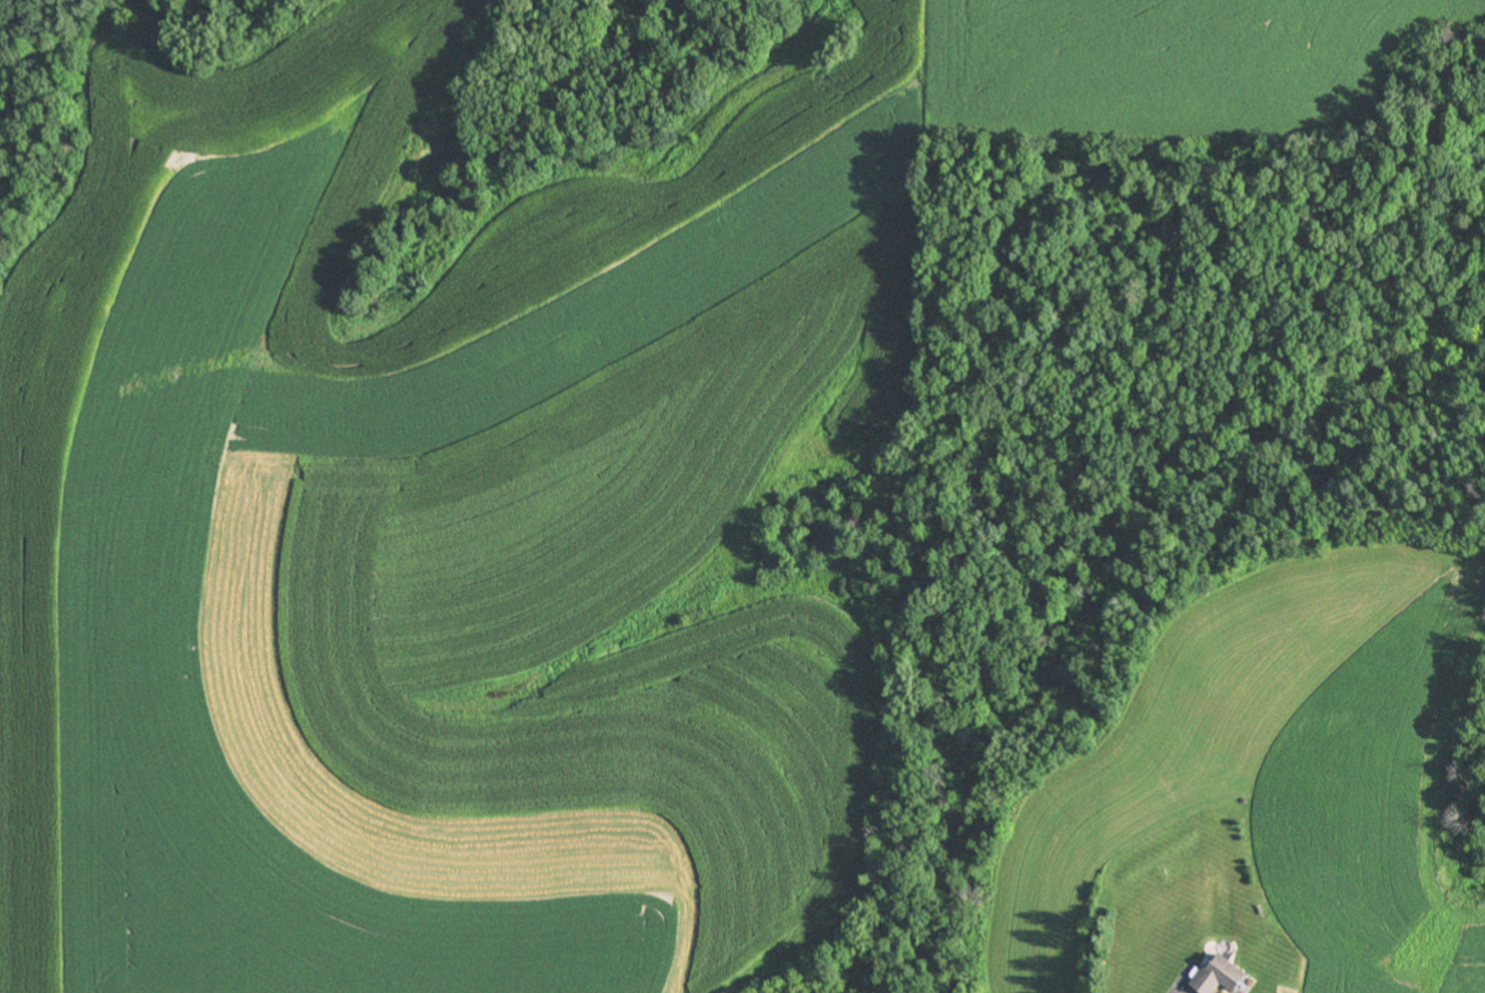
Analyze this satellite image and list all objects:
building: (1221, 975)

